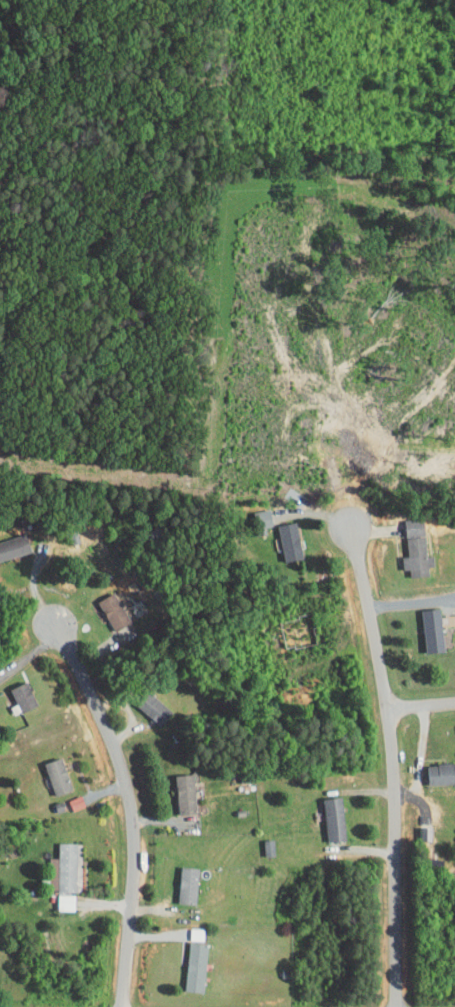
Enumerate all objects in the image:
building: (404, 520)
building: (279, 535)
building: (8, 538)
building: (407, 550)
road: (412, 601)
building: (104, 605)
building: (423, 623)
building: (287, 624)
building: (14, 690)
building: (144, 702)
road: (422, 705)
road: (393, 756)
building: (436, 766)
building: (48, 769)
building: (176, 787)
road: (131, 808)
building: (324, 812)
building: (53, 862)
building: (178, 878)
building: (56, 896)
building: (185, 961)

